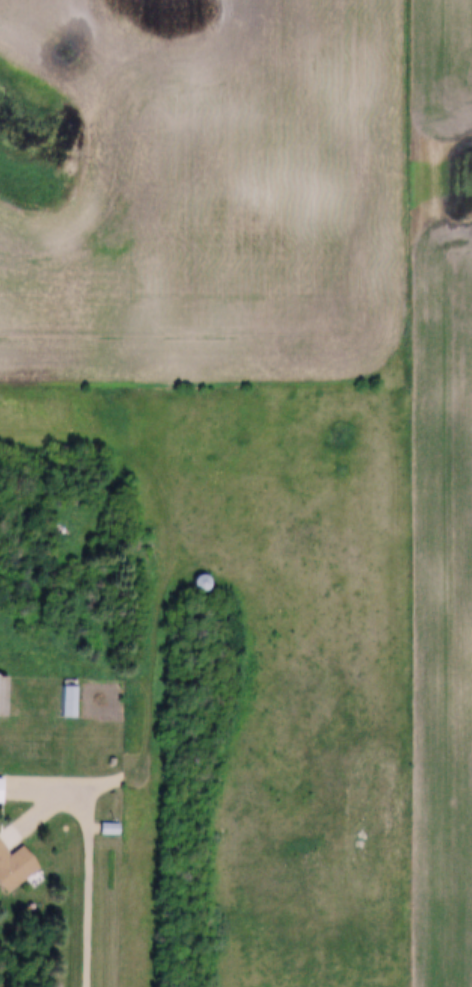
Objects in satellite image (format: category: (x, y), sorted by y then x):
building: (197, 583)
building: (1, 690)
building: (70, 702)
building: (3, 791)
building: (108, 831)
road: (93, 865)
building: (14, 868)

